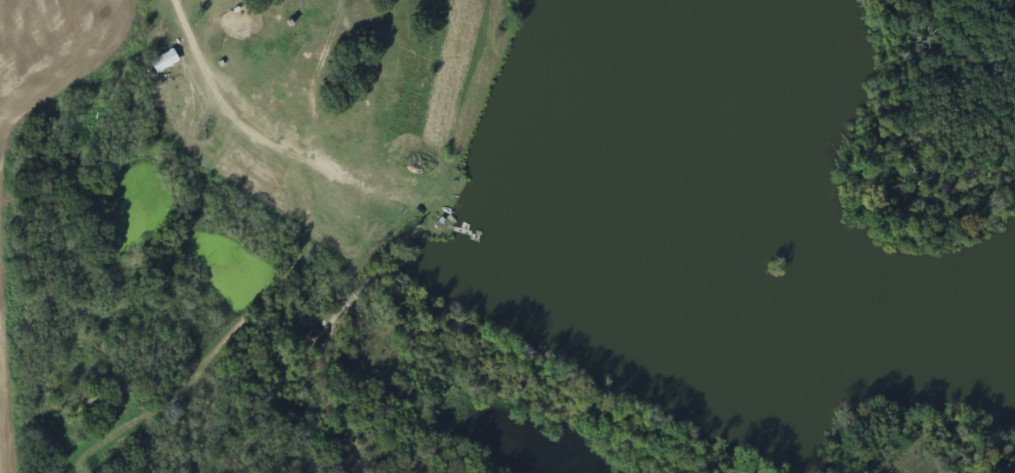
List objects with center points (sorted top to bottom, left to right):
building: (163, 62)
dam: (572, 382)

